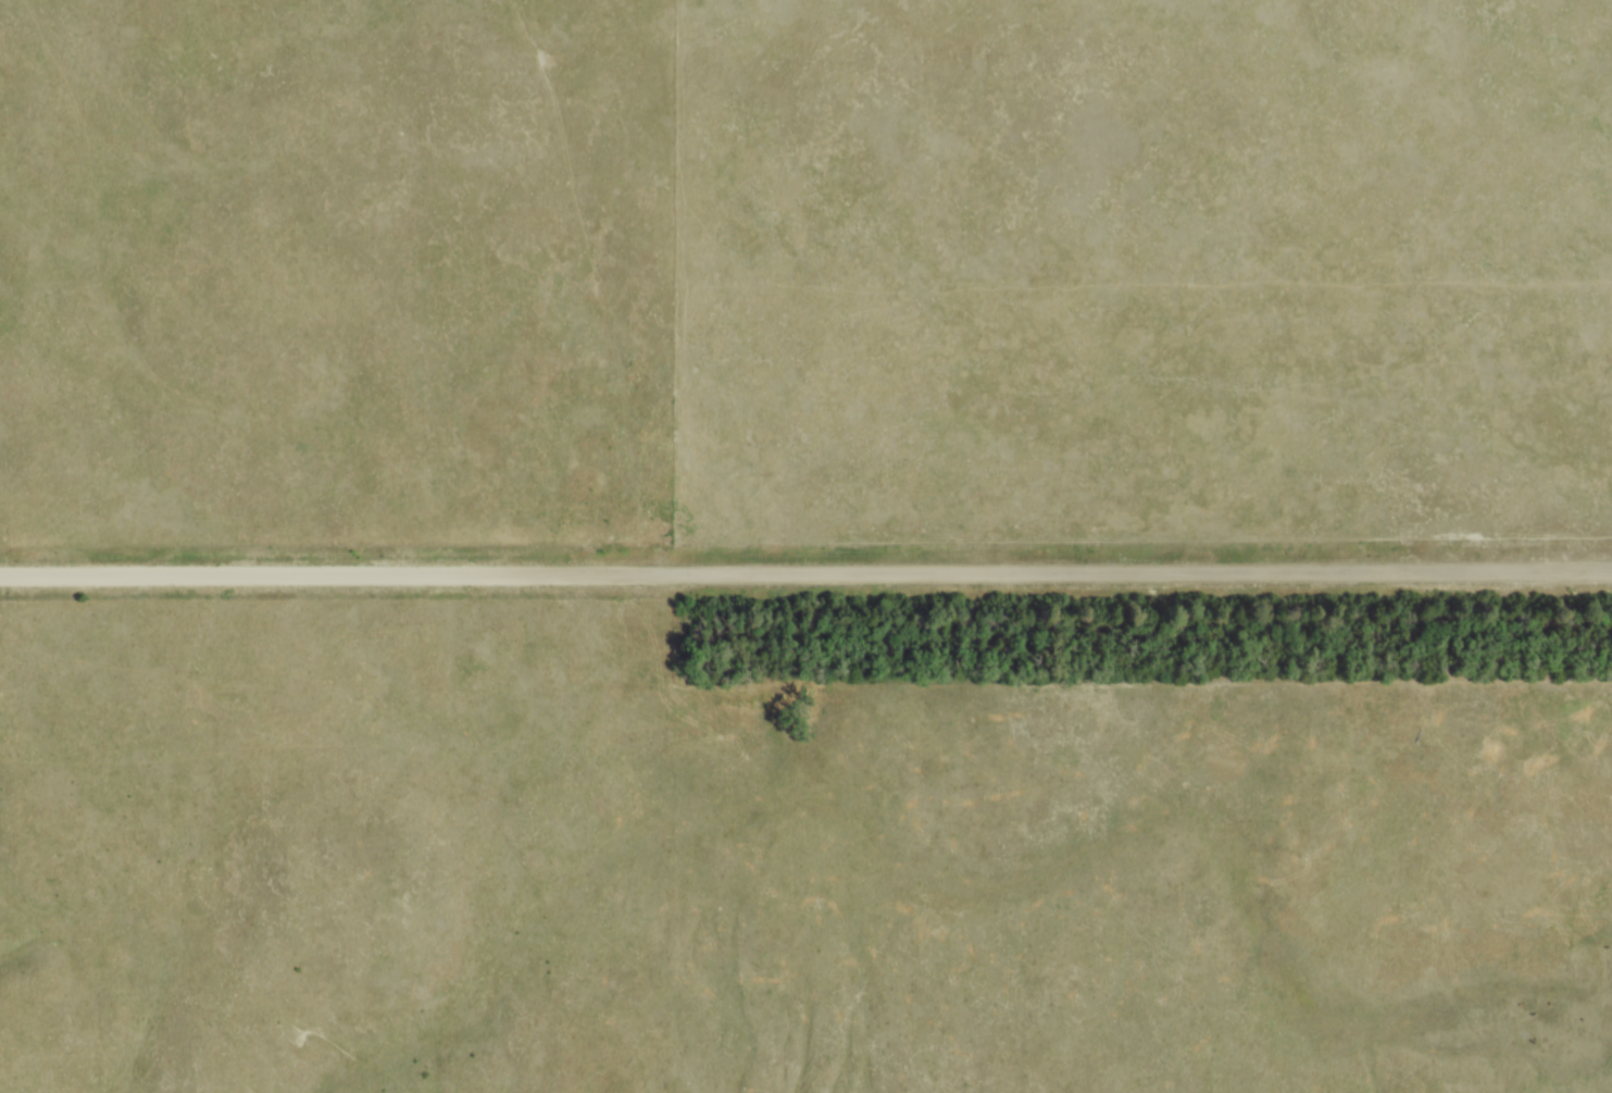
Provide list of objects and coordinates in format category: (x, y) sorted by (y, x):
road: (805, 575)

